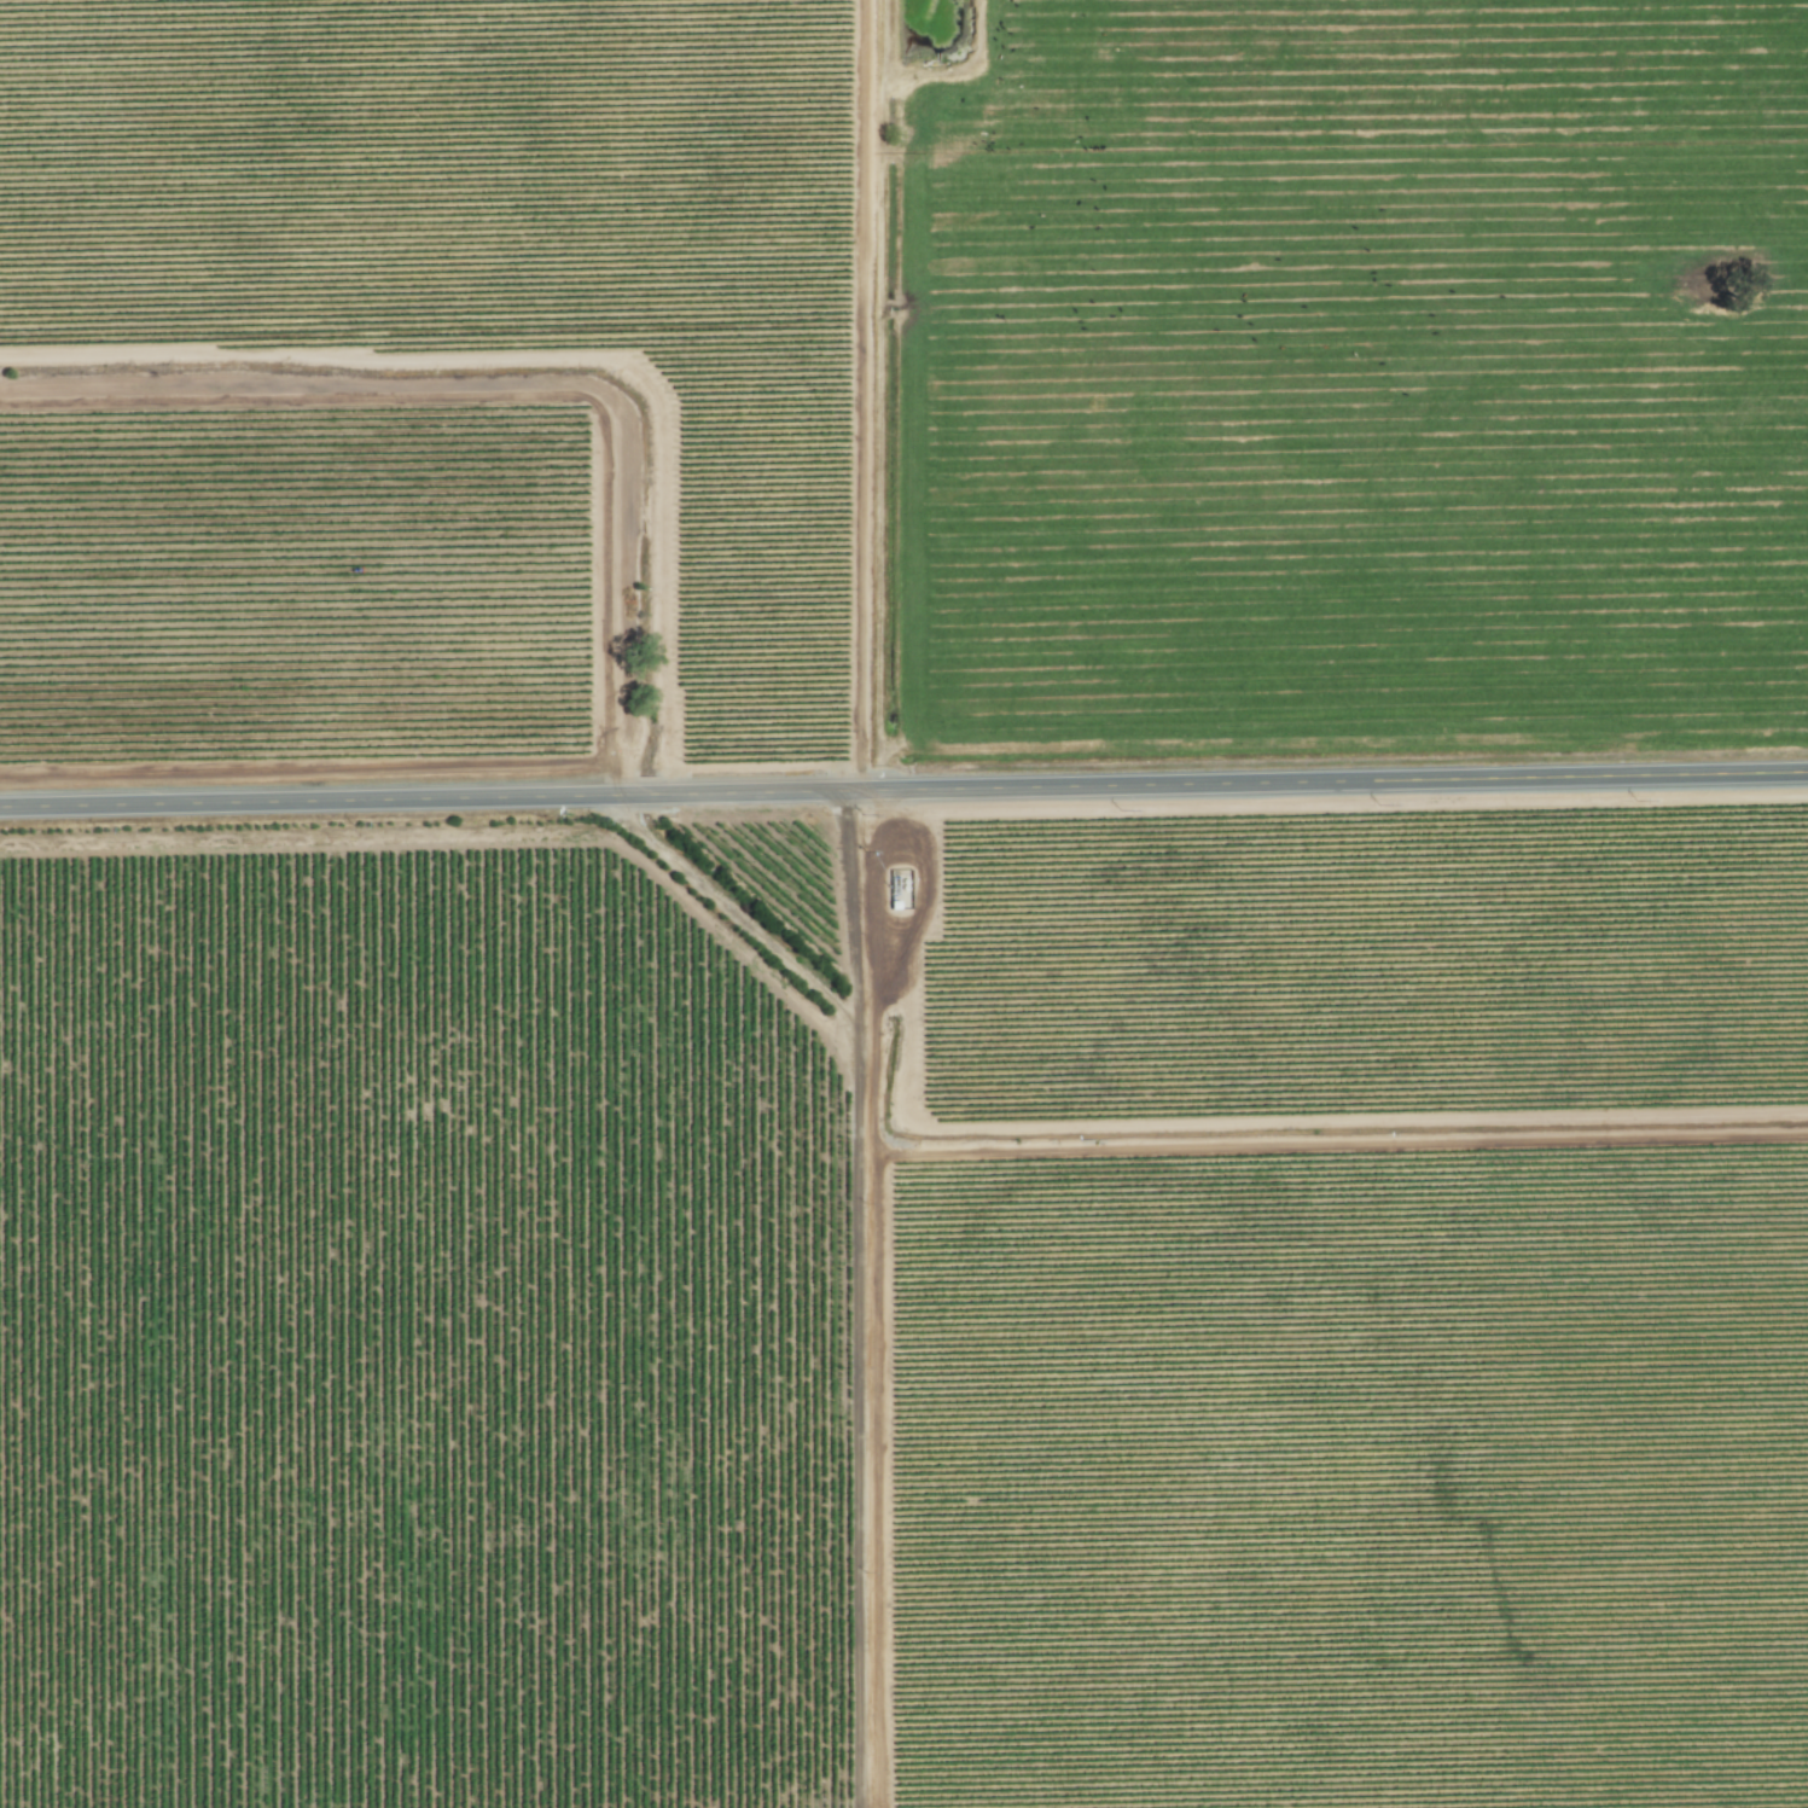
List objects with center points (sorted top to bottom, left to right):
road: (855, 395)
road: (903, 790)
road: (727, 908)
road: (1161, 1124)
road: (1332, 1143)
road: (859, 1379)

